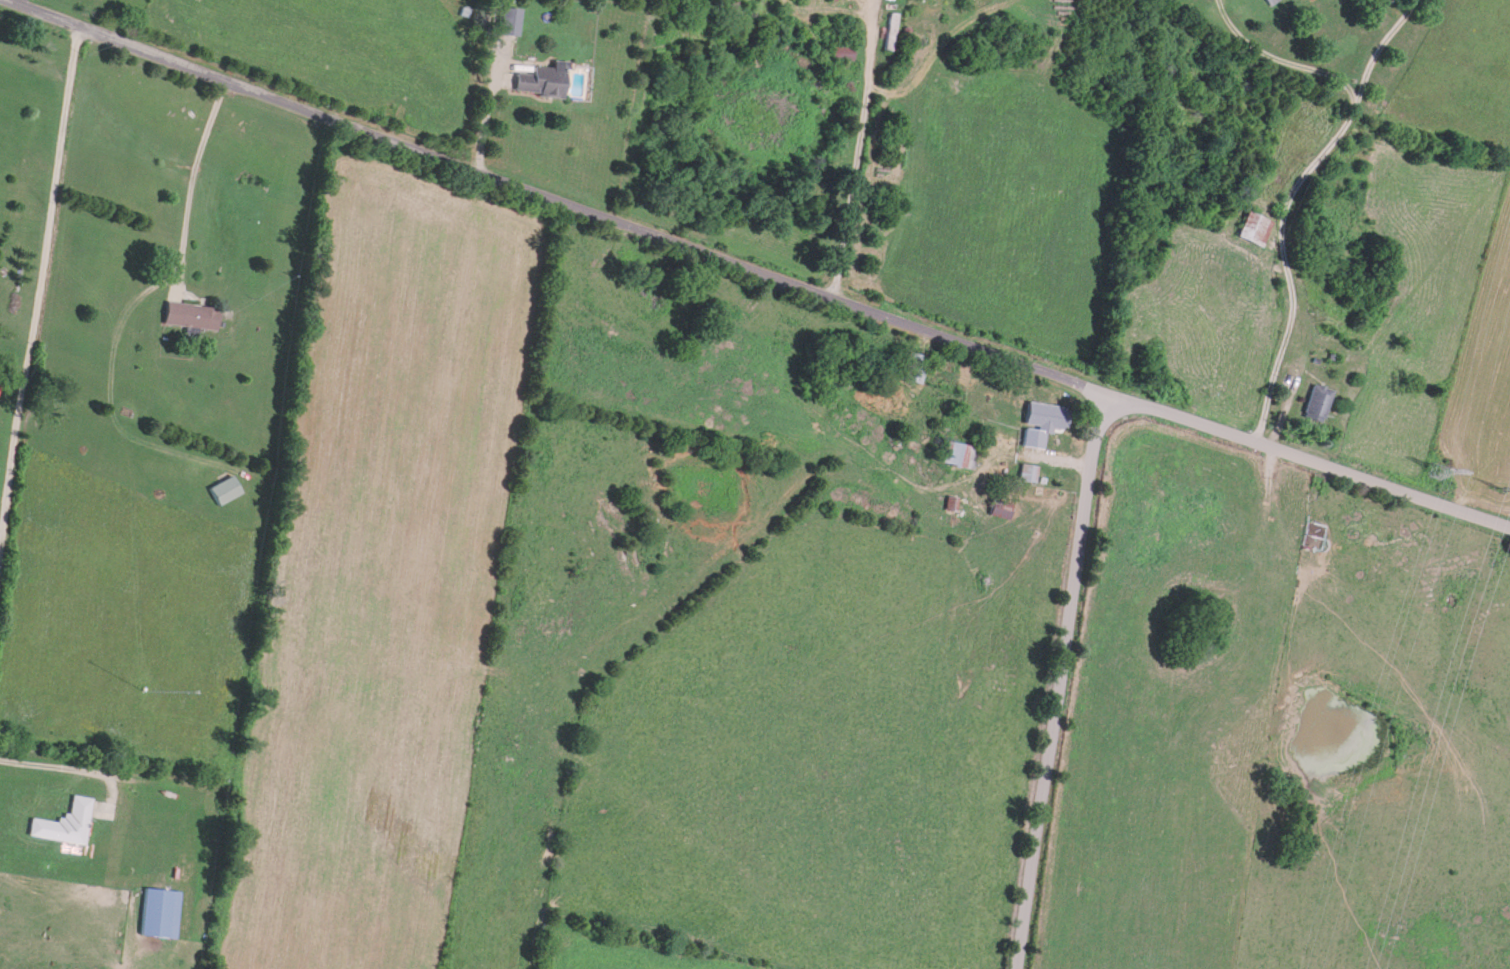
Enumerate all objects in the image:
building: (1267, 1)
building: (731, 12)
building: (887, 31)
building: (536, 76)
road: (859, 149)
road: (549, 197)
road: (1338, 217)
building: (1250, 226)
road: (46, 277)
building: (188, 314)
building: (912, 365)
building: (1314, 400)
building: (1044, 412)
building: (957, 454)
road: (1304, 455)
building: (1025, 471)
building: (219, 489)
building: (951, 502)
building: (998, 507)
road: (1056, 680)
building: (61, 822)
building: (166, 854)

